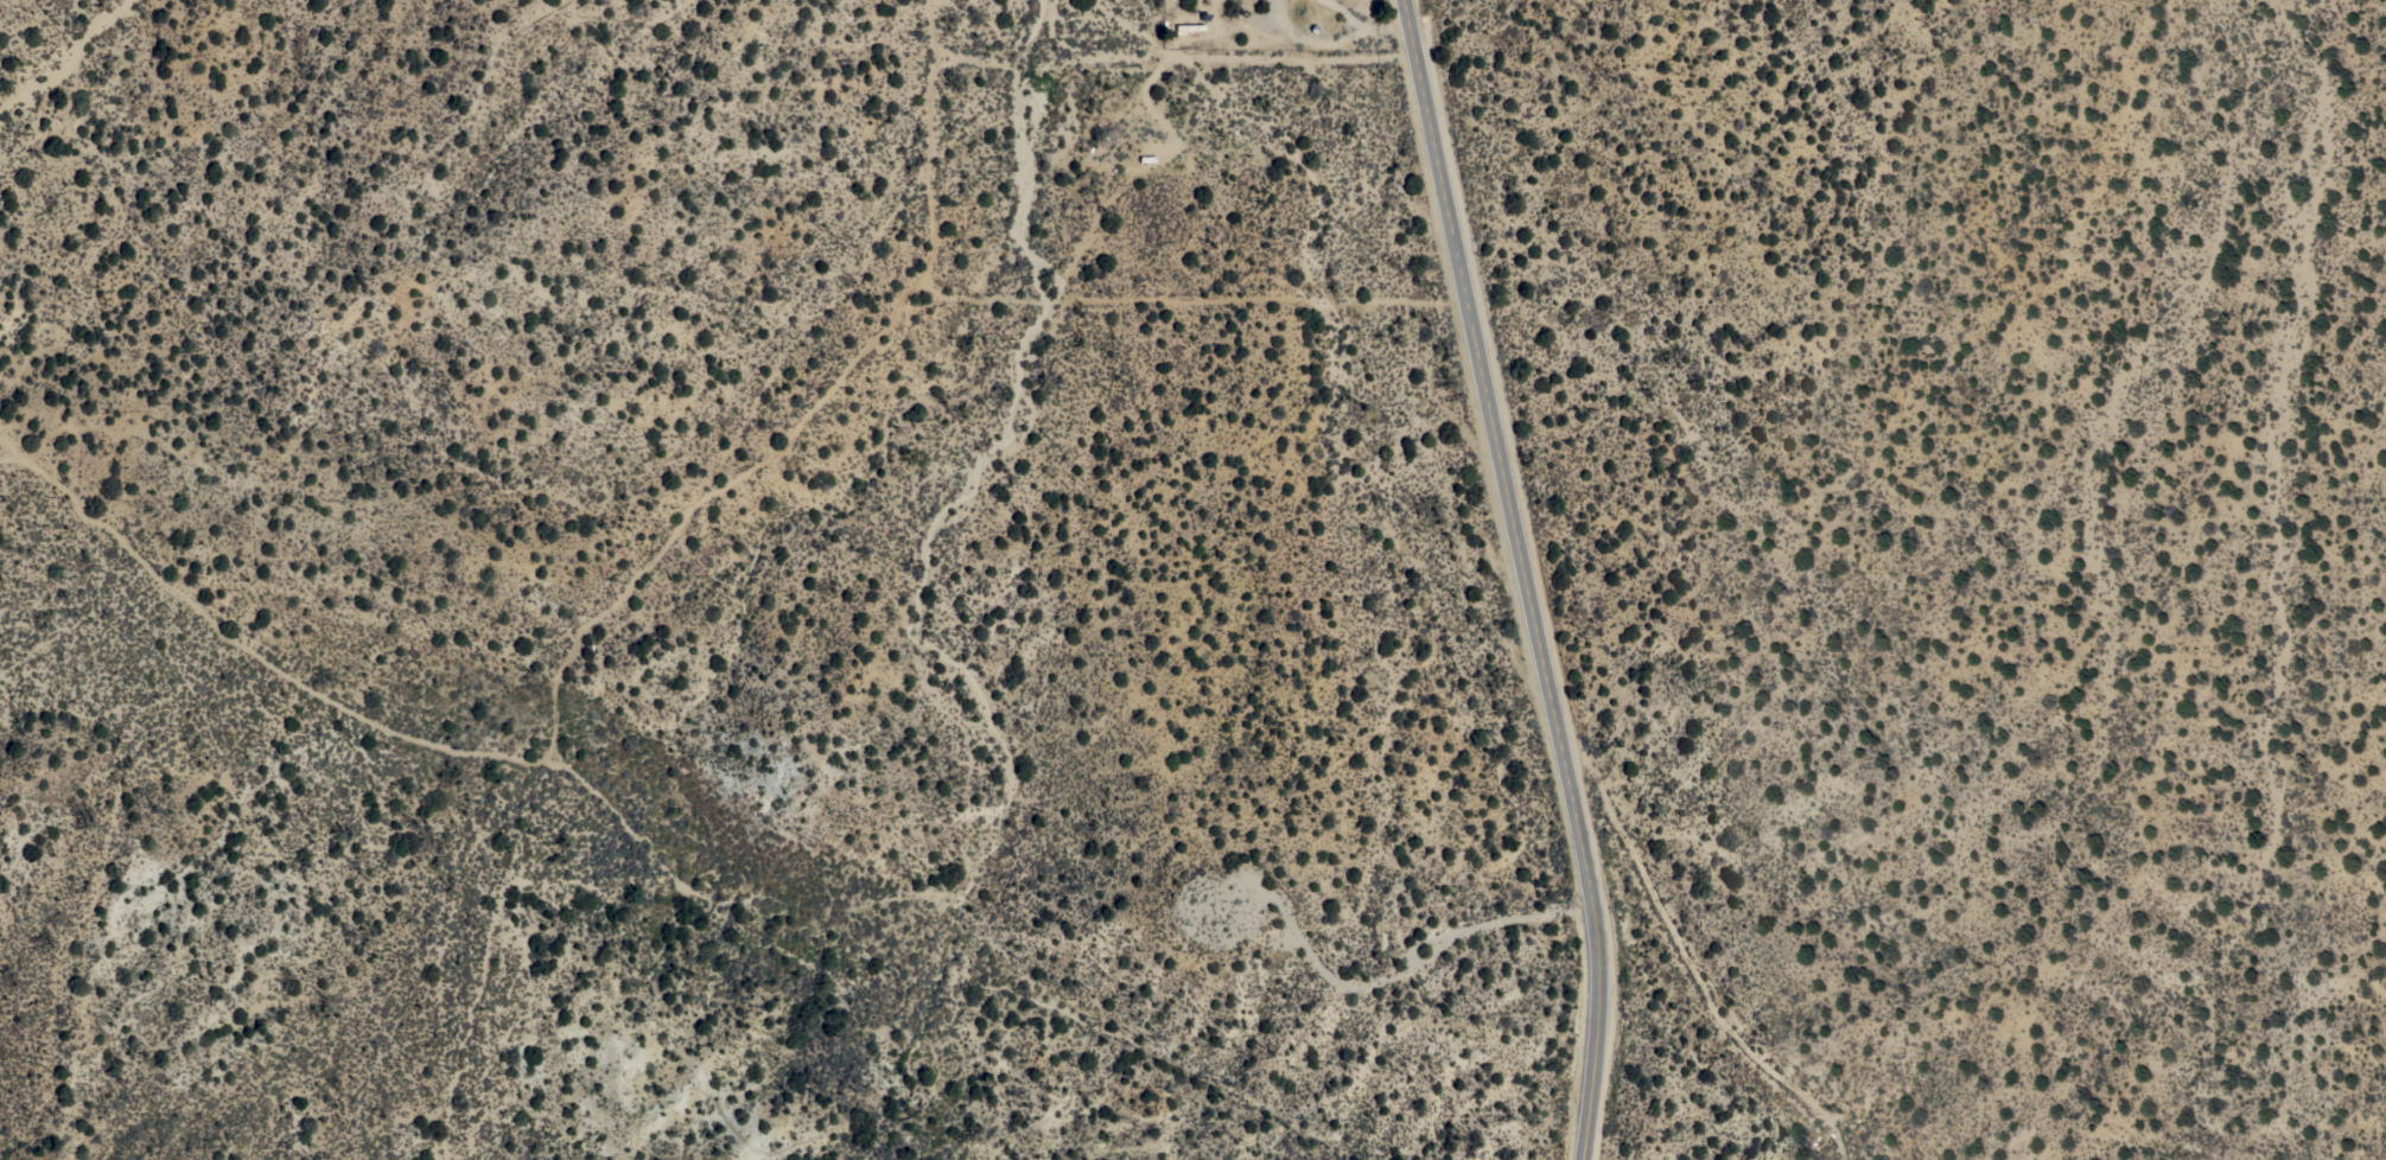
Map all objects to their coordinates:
building: (1188, 26)
road: (1536, 576)
road: (103, 918)

